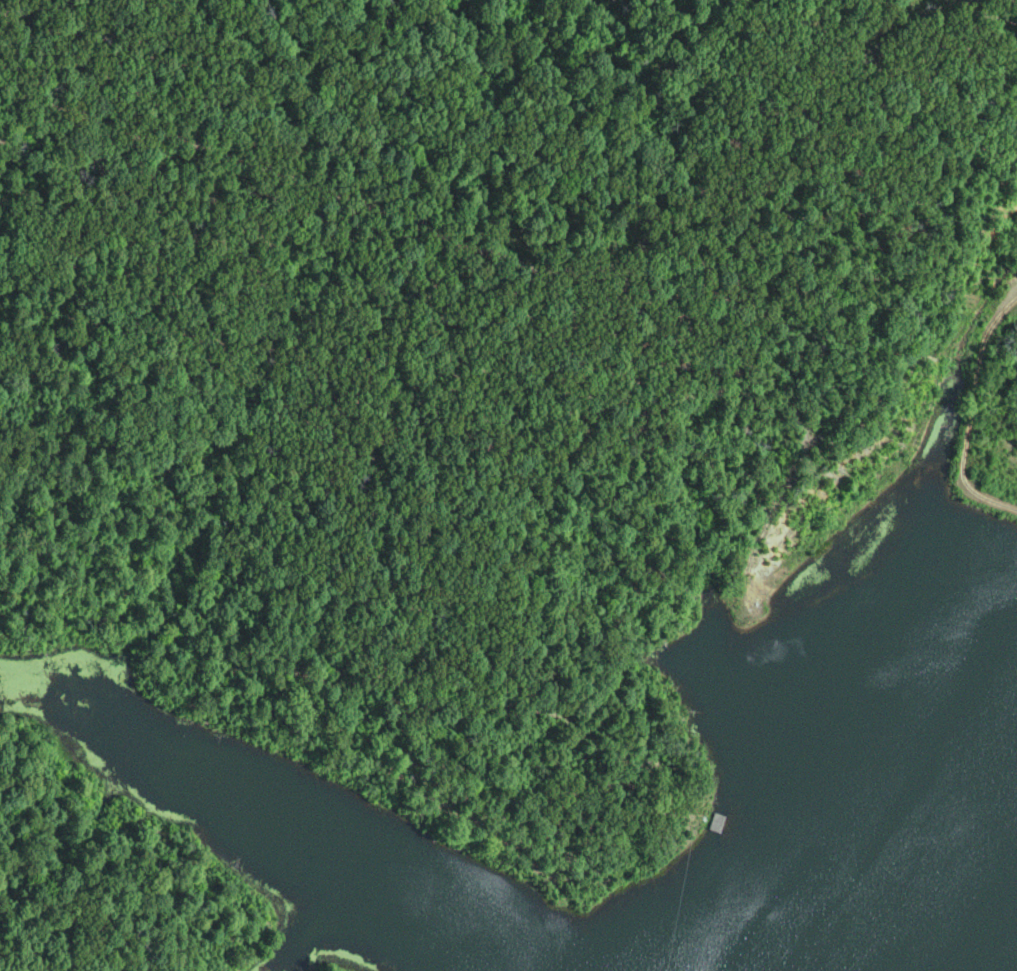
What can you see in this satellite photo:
dam: (979, 507)

